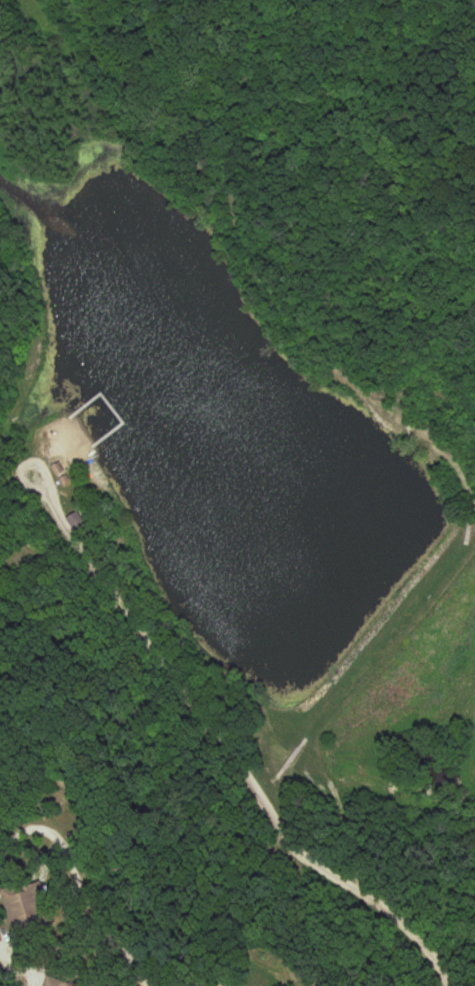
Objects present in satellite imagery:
road: (208, 742)
building: (29, 907)
building: (57, 983)

